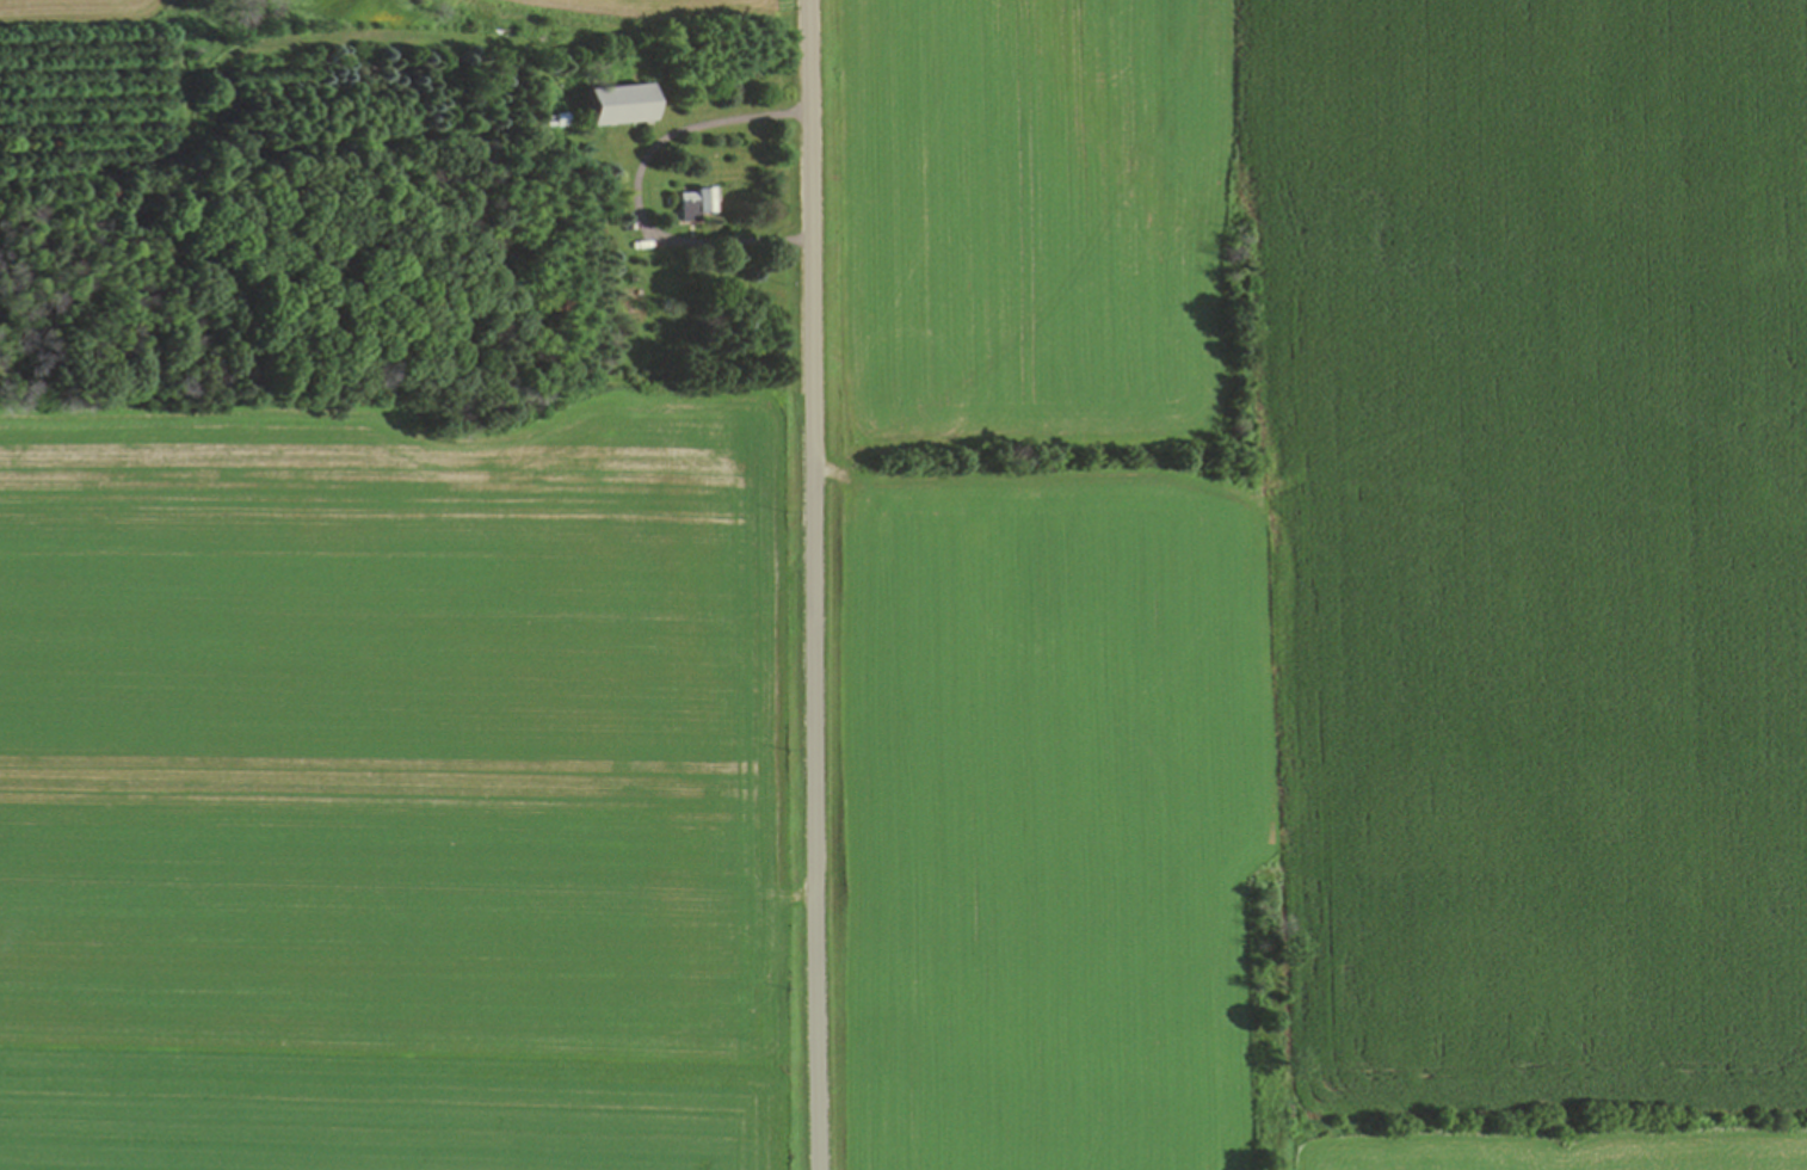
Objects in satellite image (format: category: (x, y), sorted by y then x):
building: (615, 106)
building: (695, 205)
road: (813, 585)

